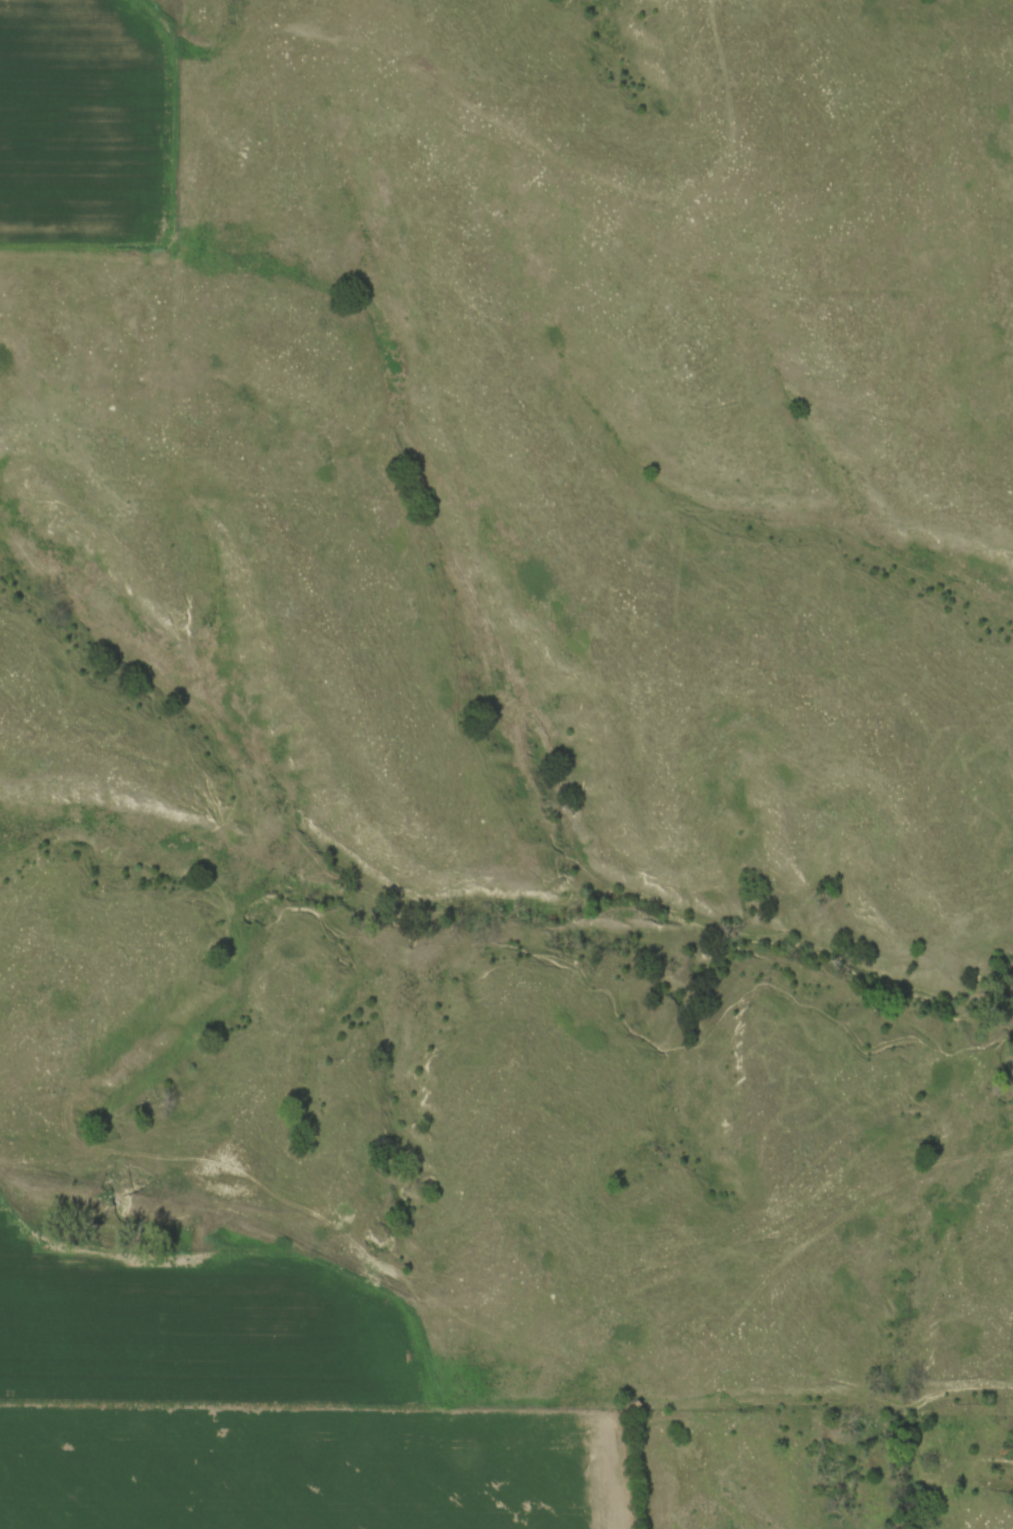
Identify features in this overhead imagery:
crop: (76, 112)
crop: (190, 1343)
airport: (314, 1472)

